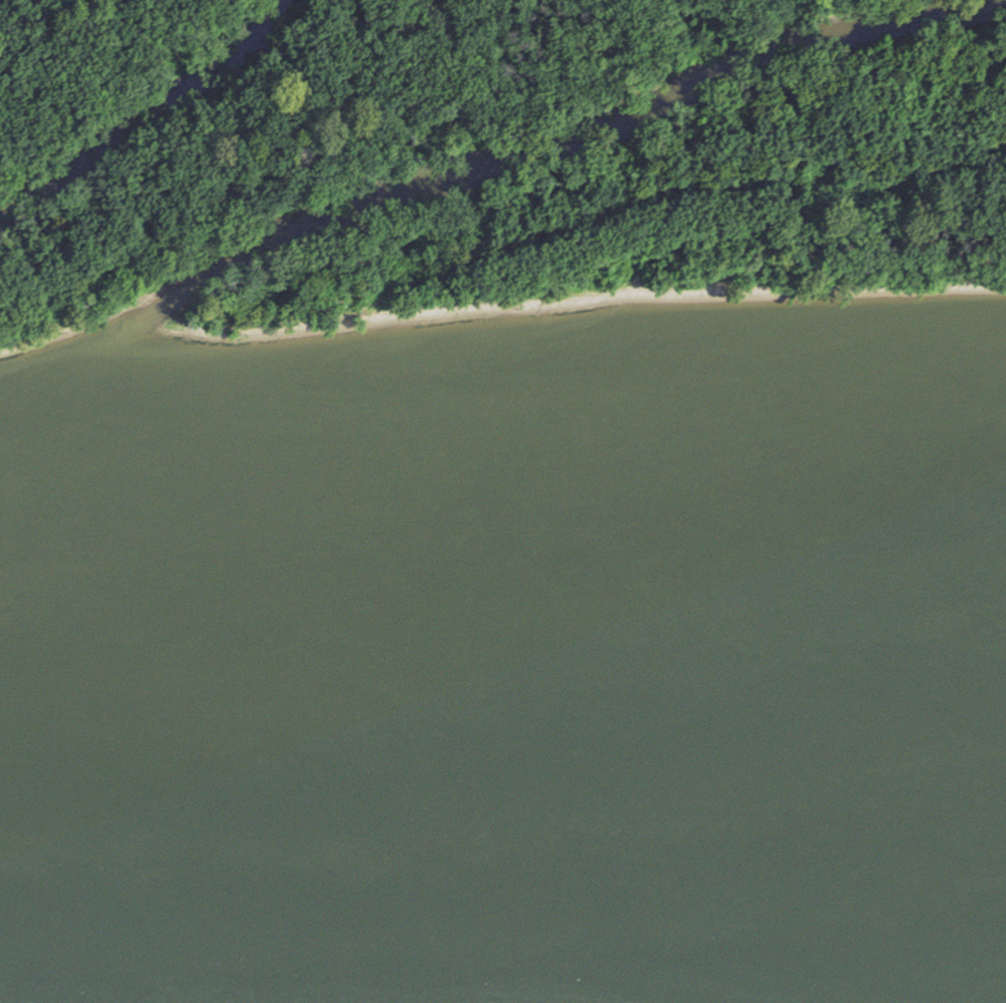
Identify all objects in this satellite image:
building: (565, 676)
building: (623, 702)

